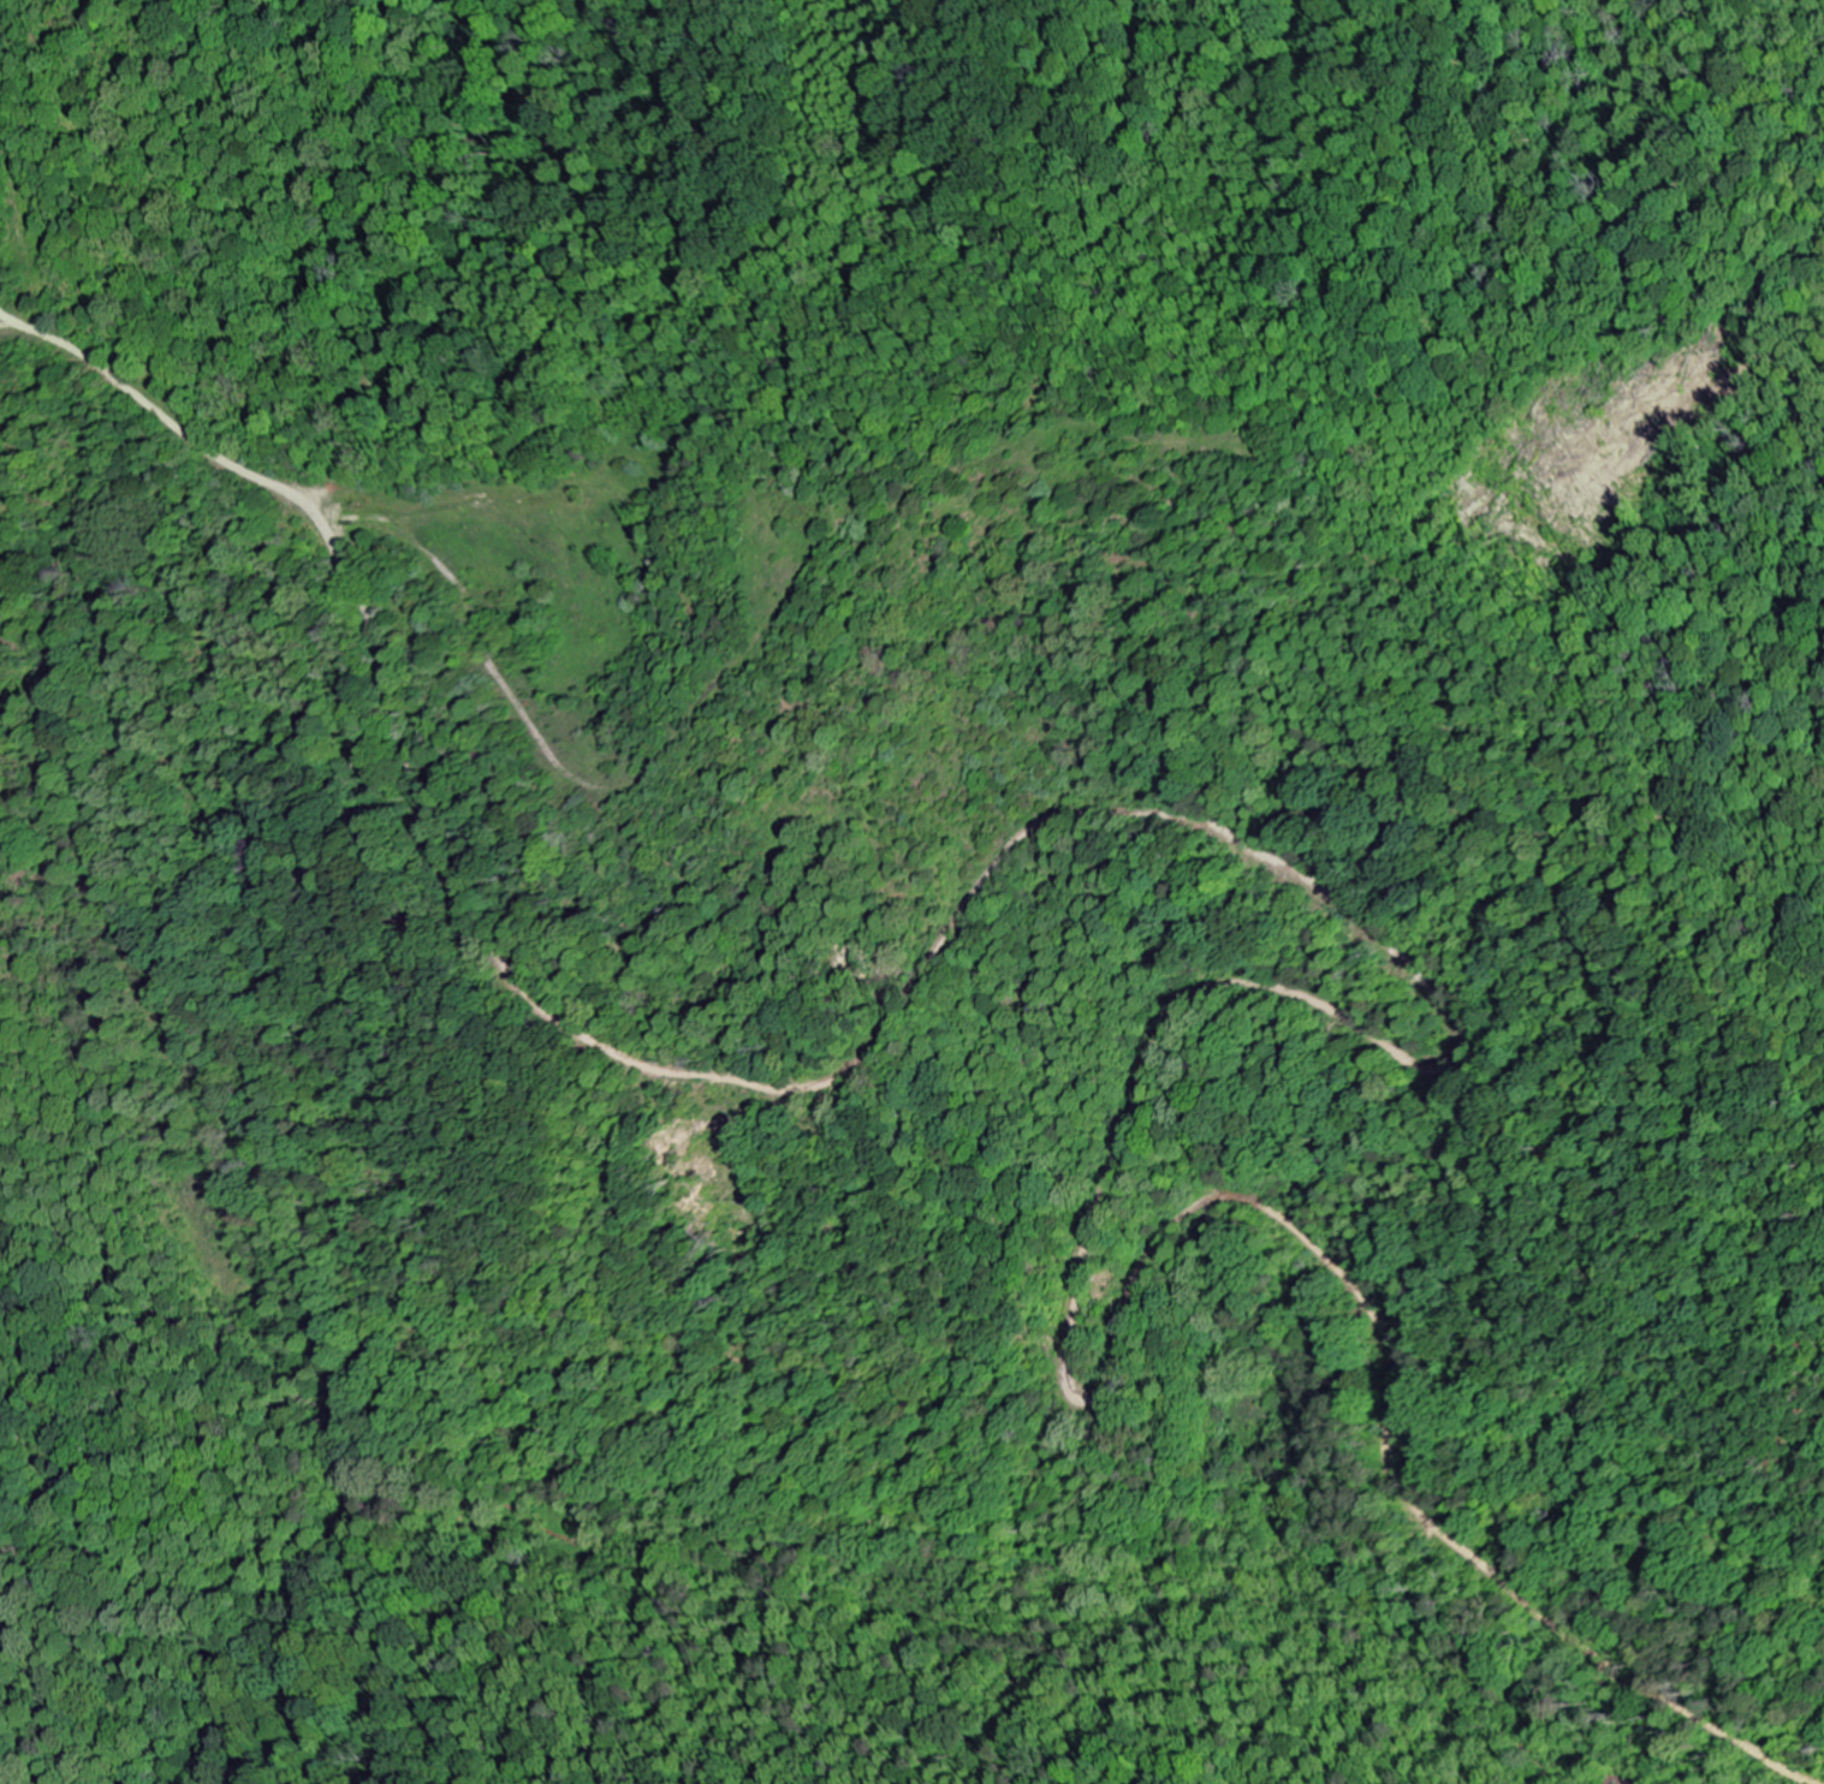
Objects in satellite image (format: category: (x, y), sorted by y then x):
road: (1416, 982)

